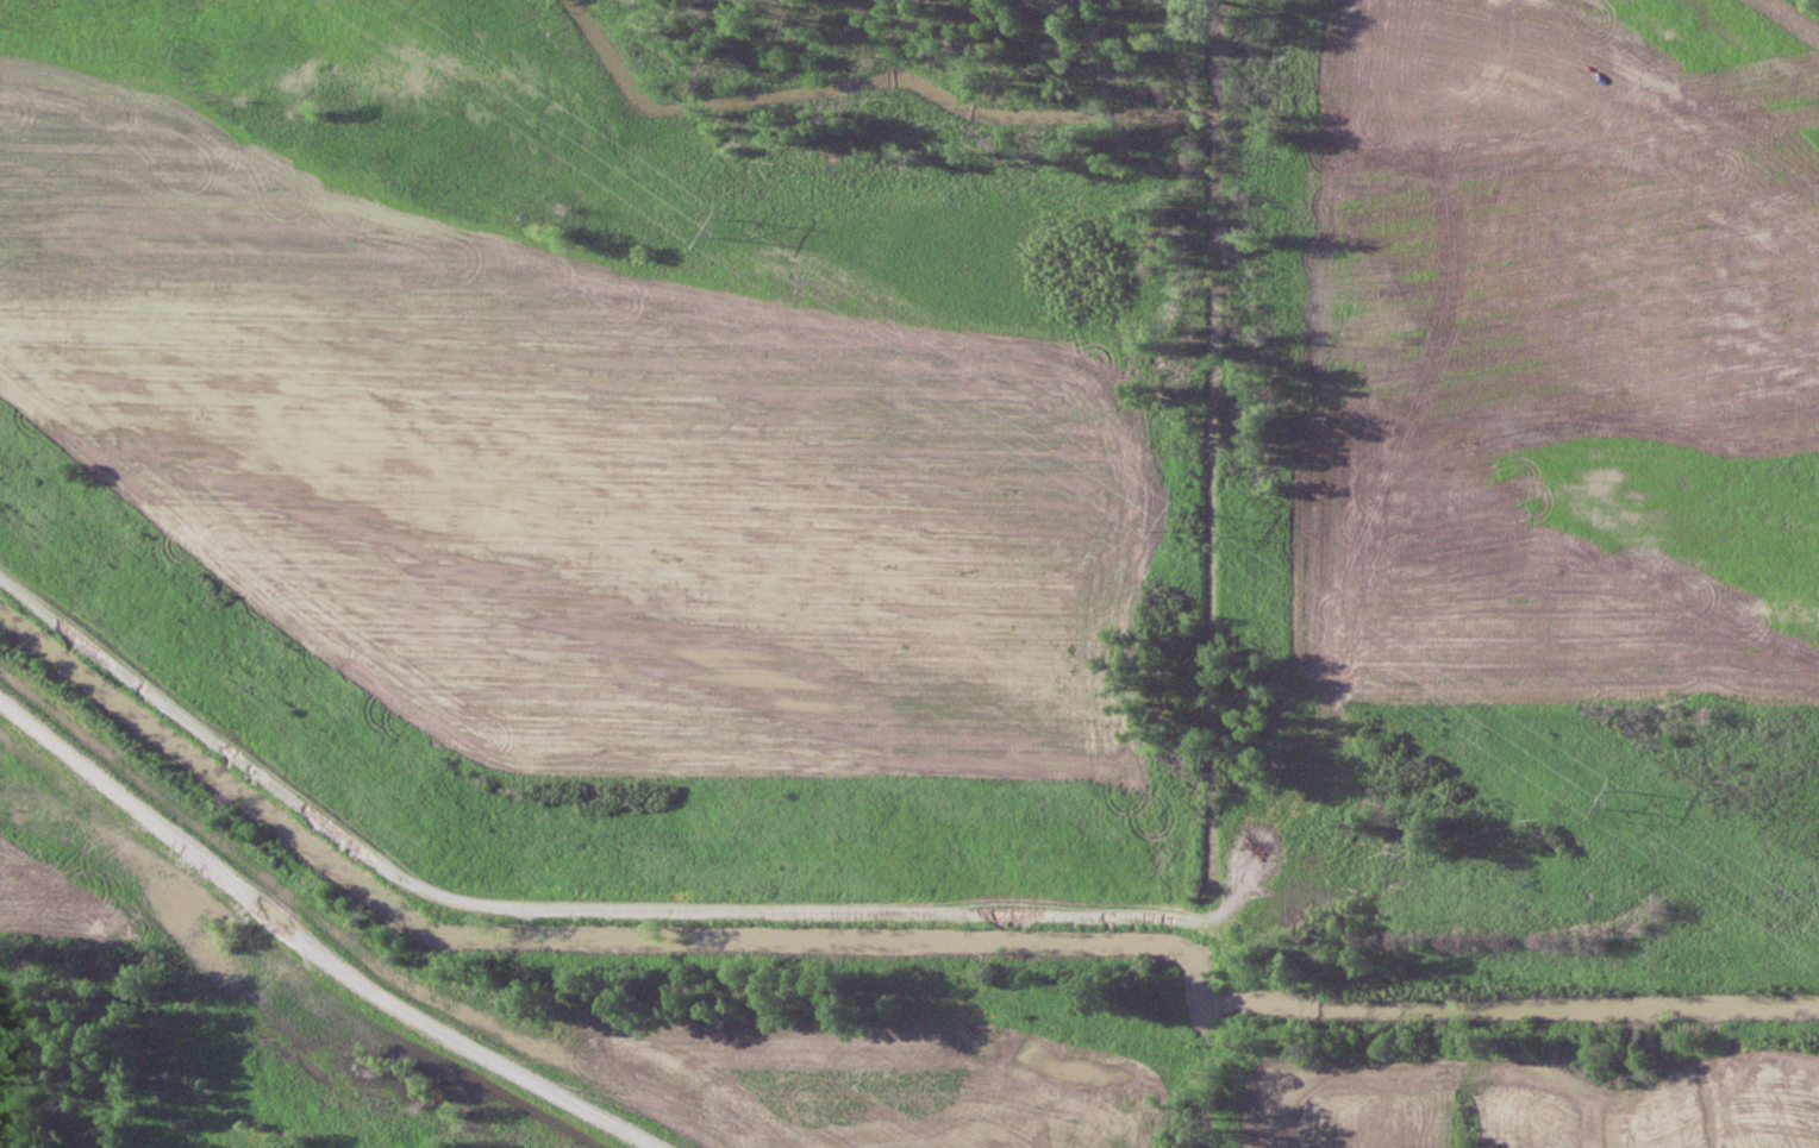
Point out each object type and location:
power tower: (712, 219)
power tower: (1183, 513)
power tower: (1602, 798)
road: (855, 910)
road: (312, 948)
road: (1804, 978)

